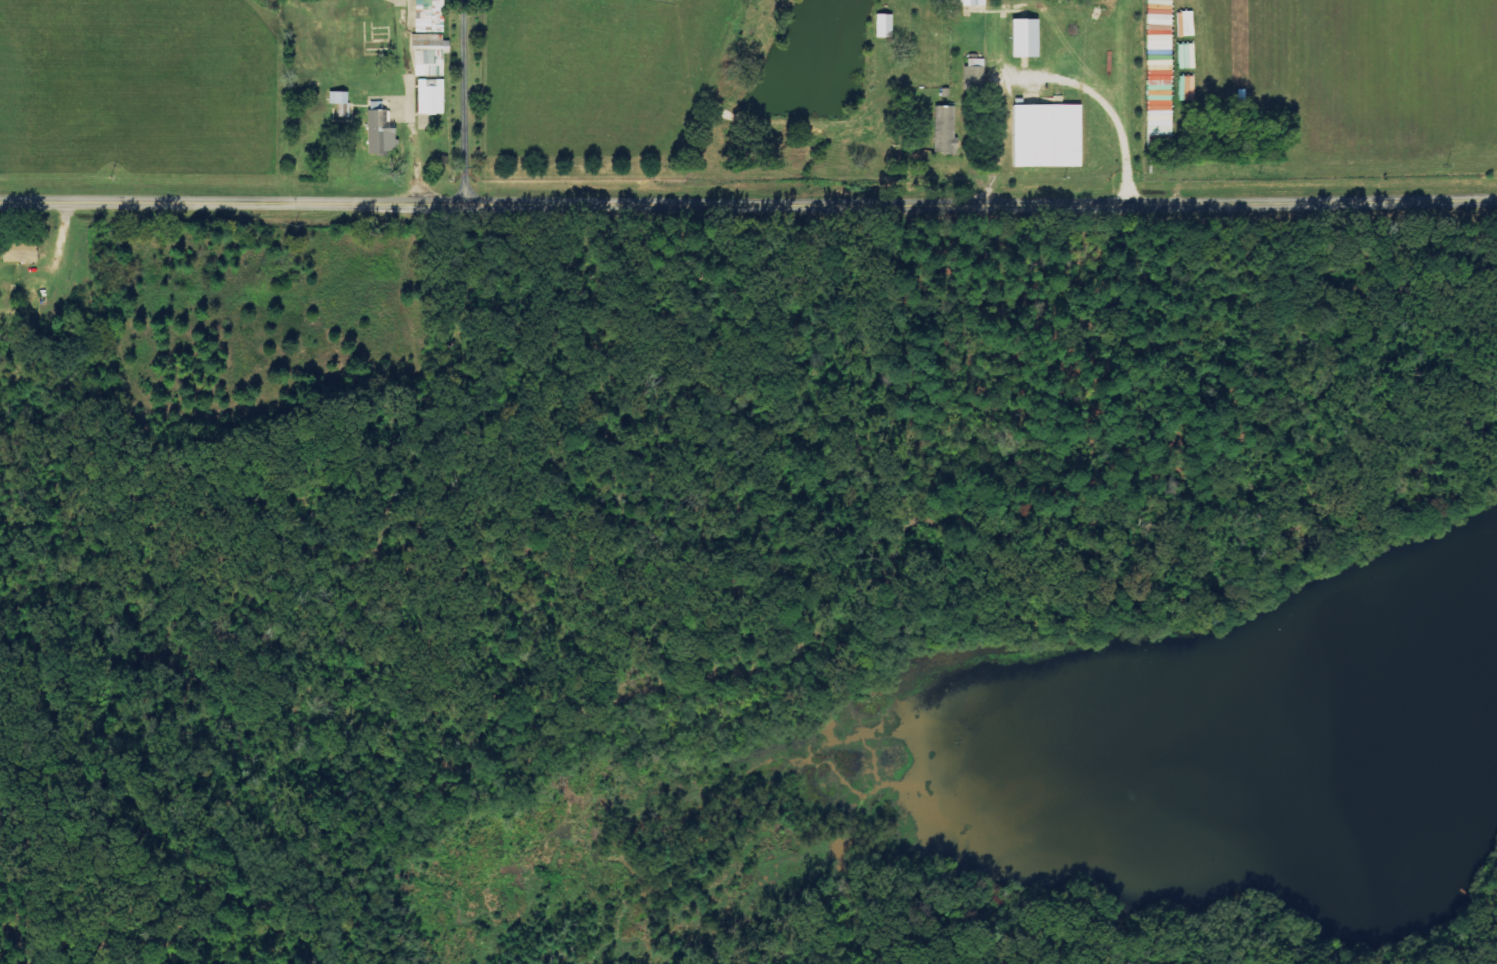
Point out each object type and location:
building: (968, 2)
building: (429, 16)
building: (884, 26)
building: (1025, 38)
building: (430, 55)
building: (974, 68)
building: (431, 97)
building: (338, 98)
road: (466, 102)
building: (945, 130)
building: (380, 131)
building: (1047, 136)
road: (748, 205)
building: (19, 253)

